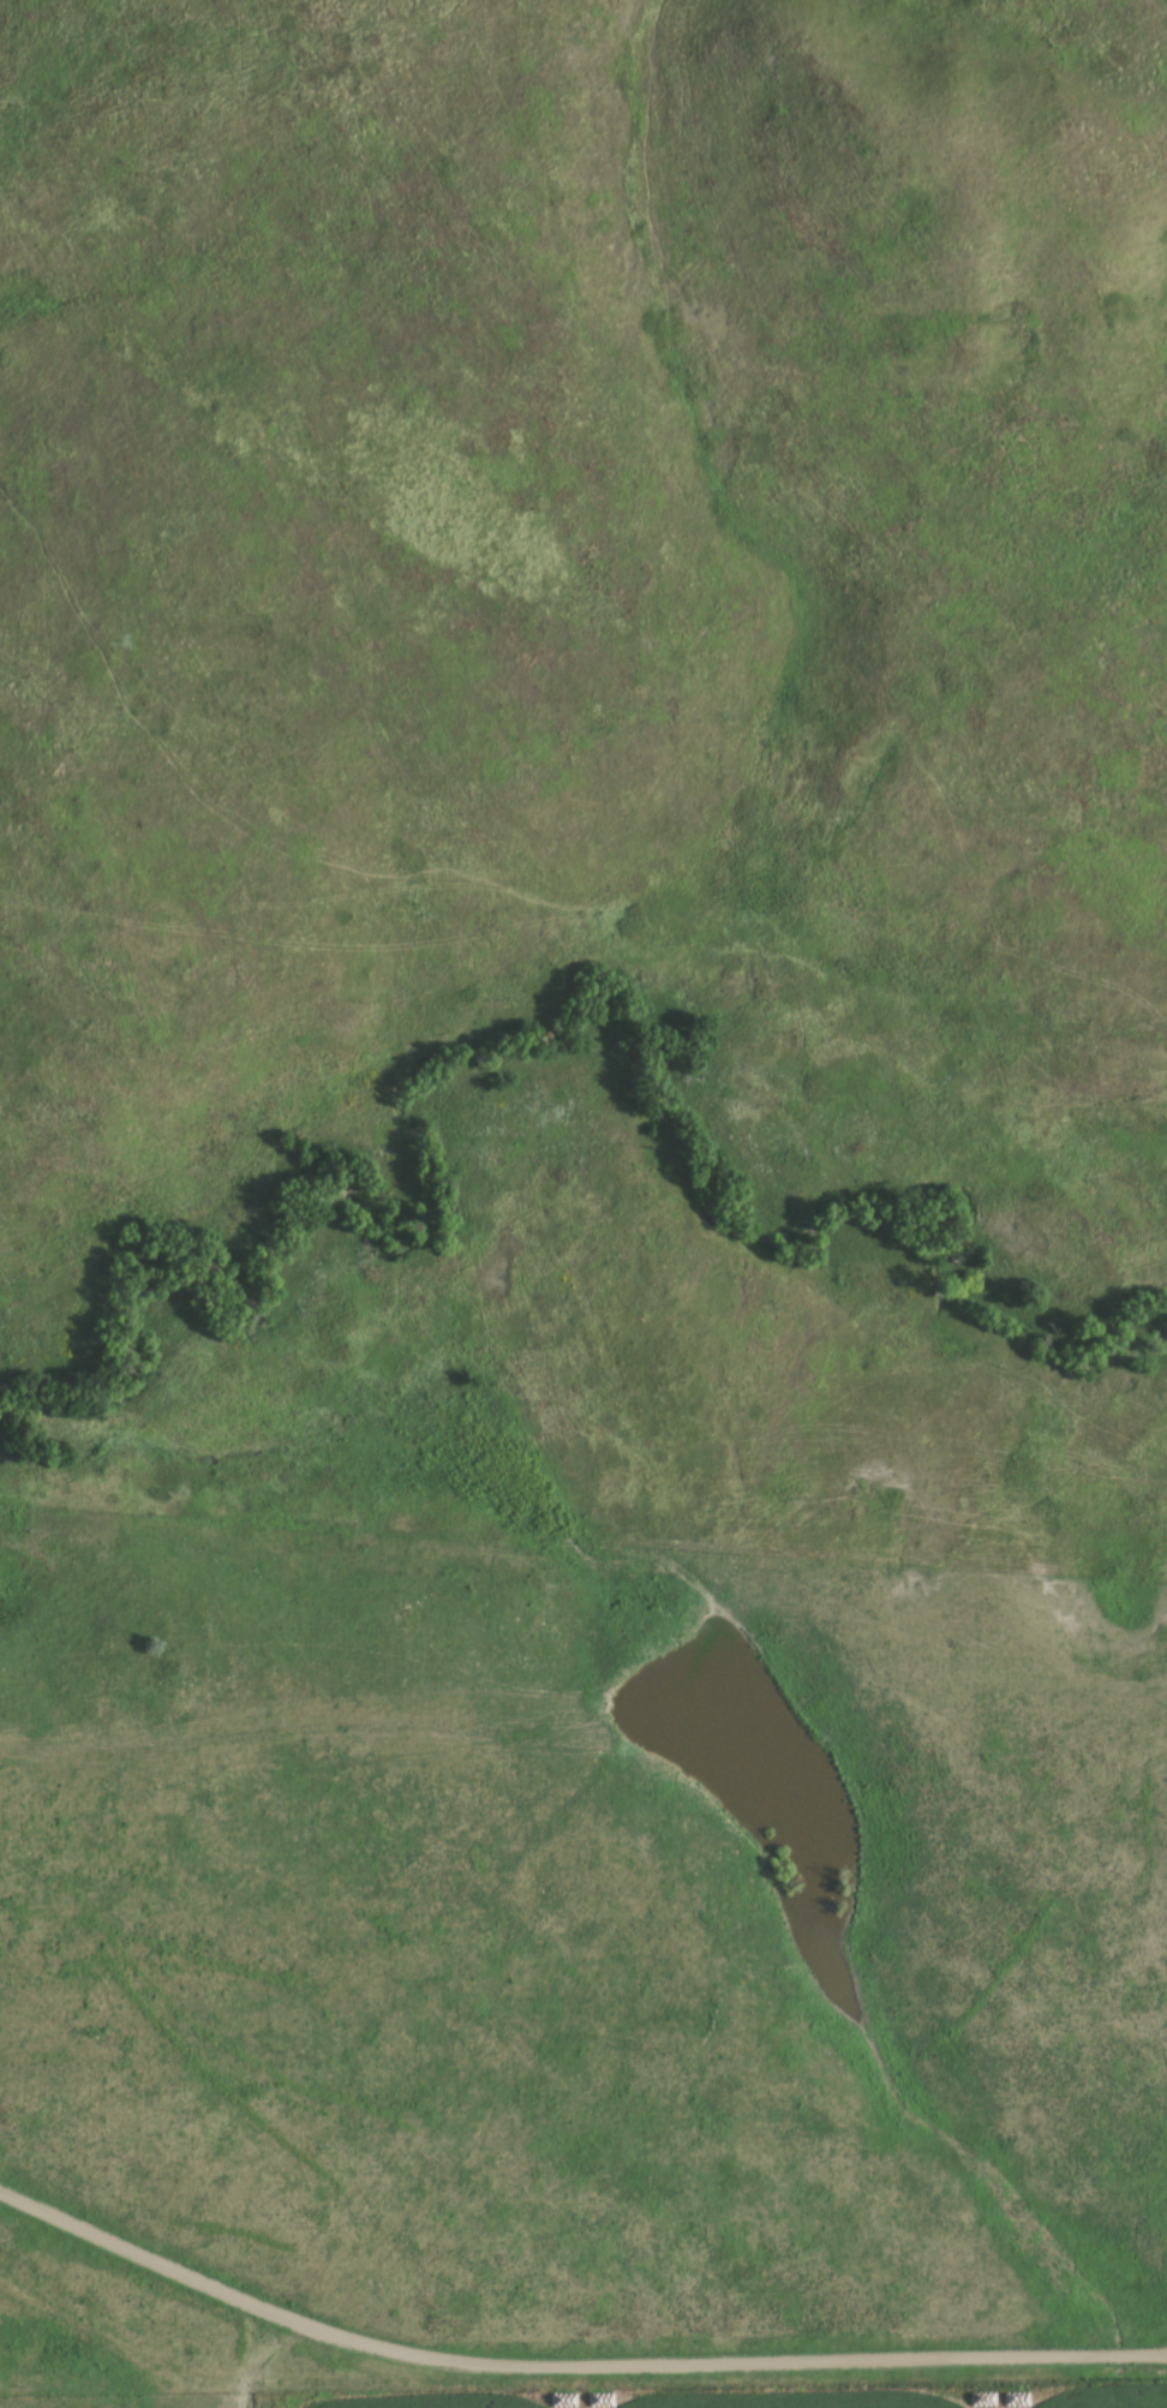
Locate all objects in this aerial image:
road: (567, 2359)

